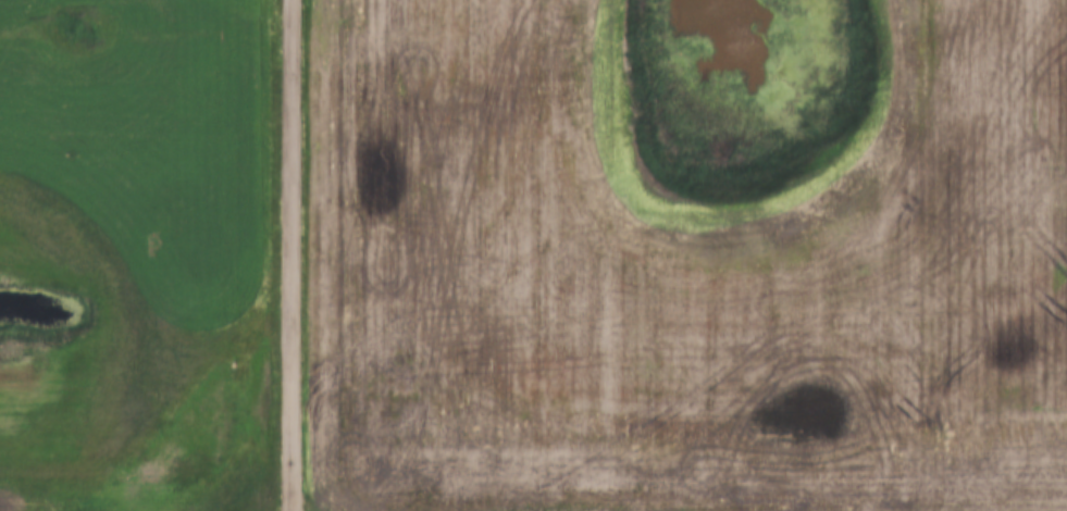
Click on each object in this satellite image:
road: (290, 255)

